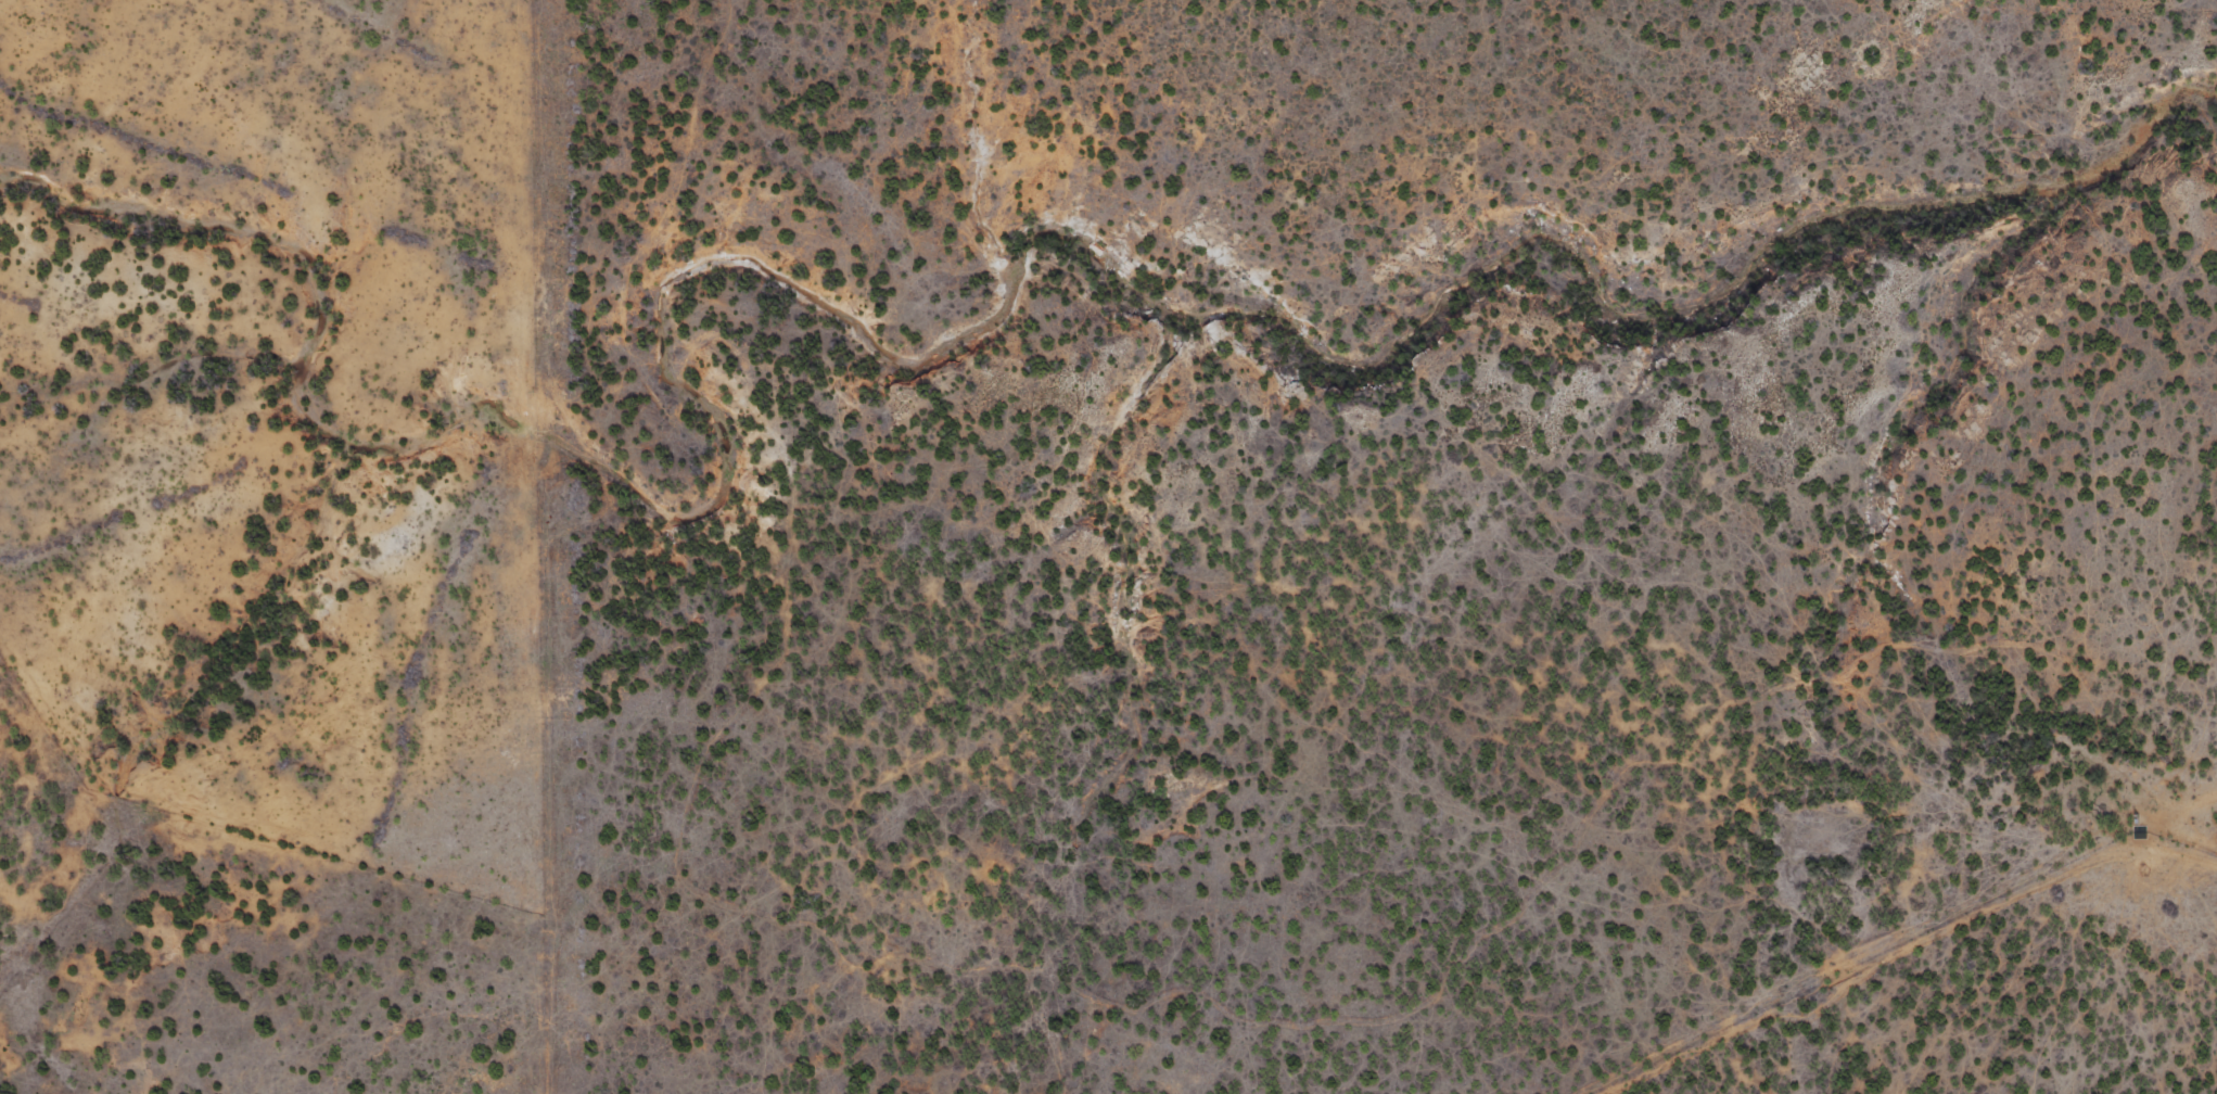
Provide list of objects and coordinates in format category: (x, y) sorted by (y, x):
road: (1966, 845)

